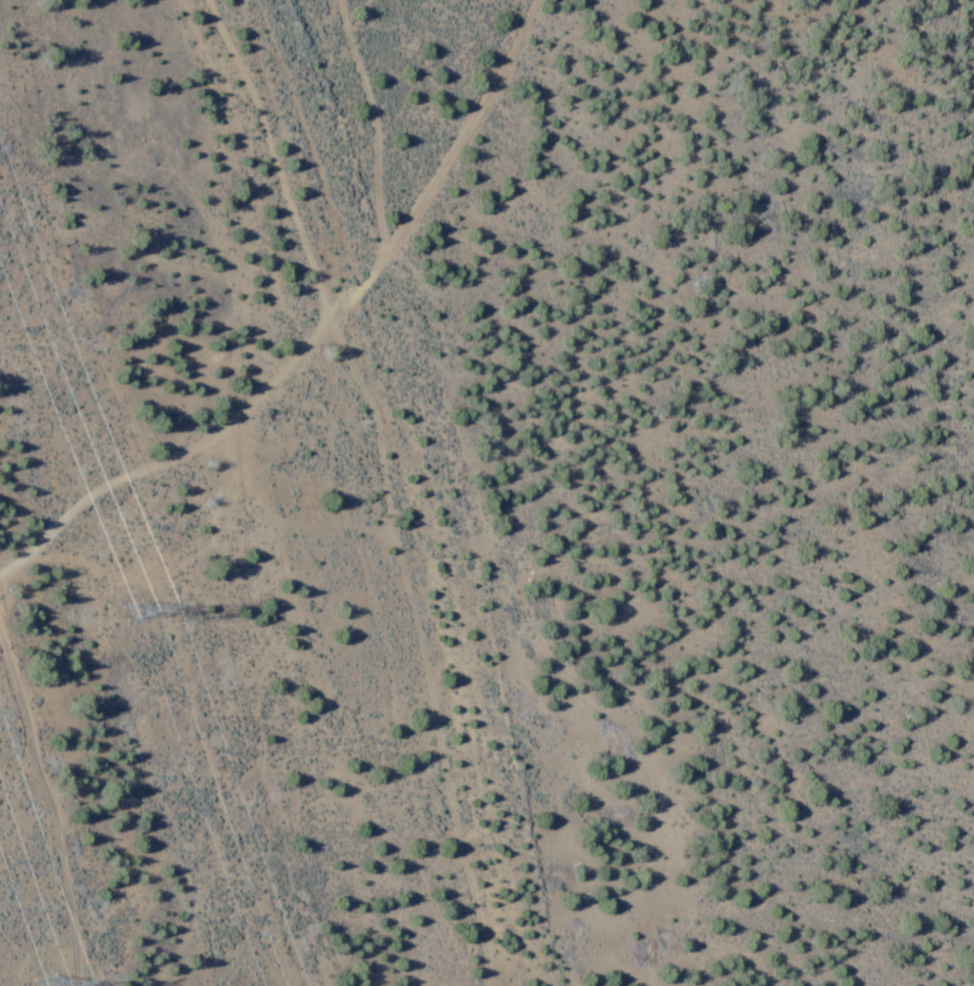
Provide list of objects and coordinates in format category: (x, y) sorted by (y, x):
power tower: (157, 613)
road: (53, 819)

